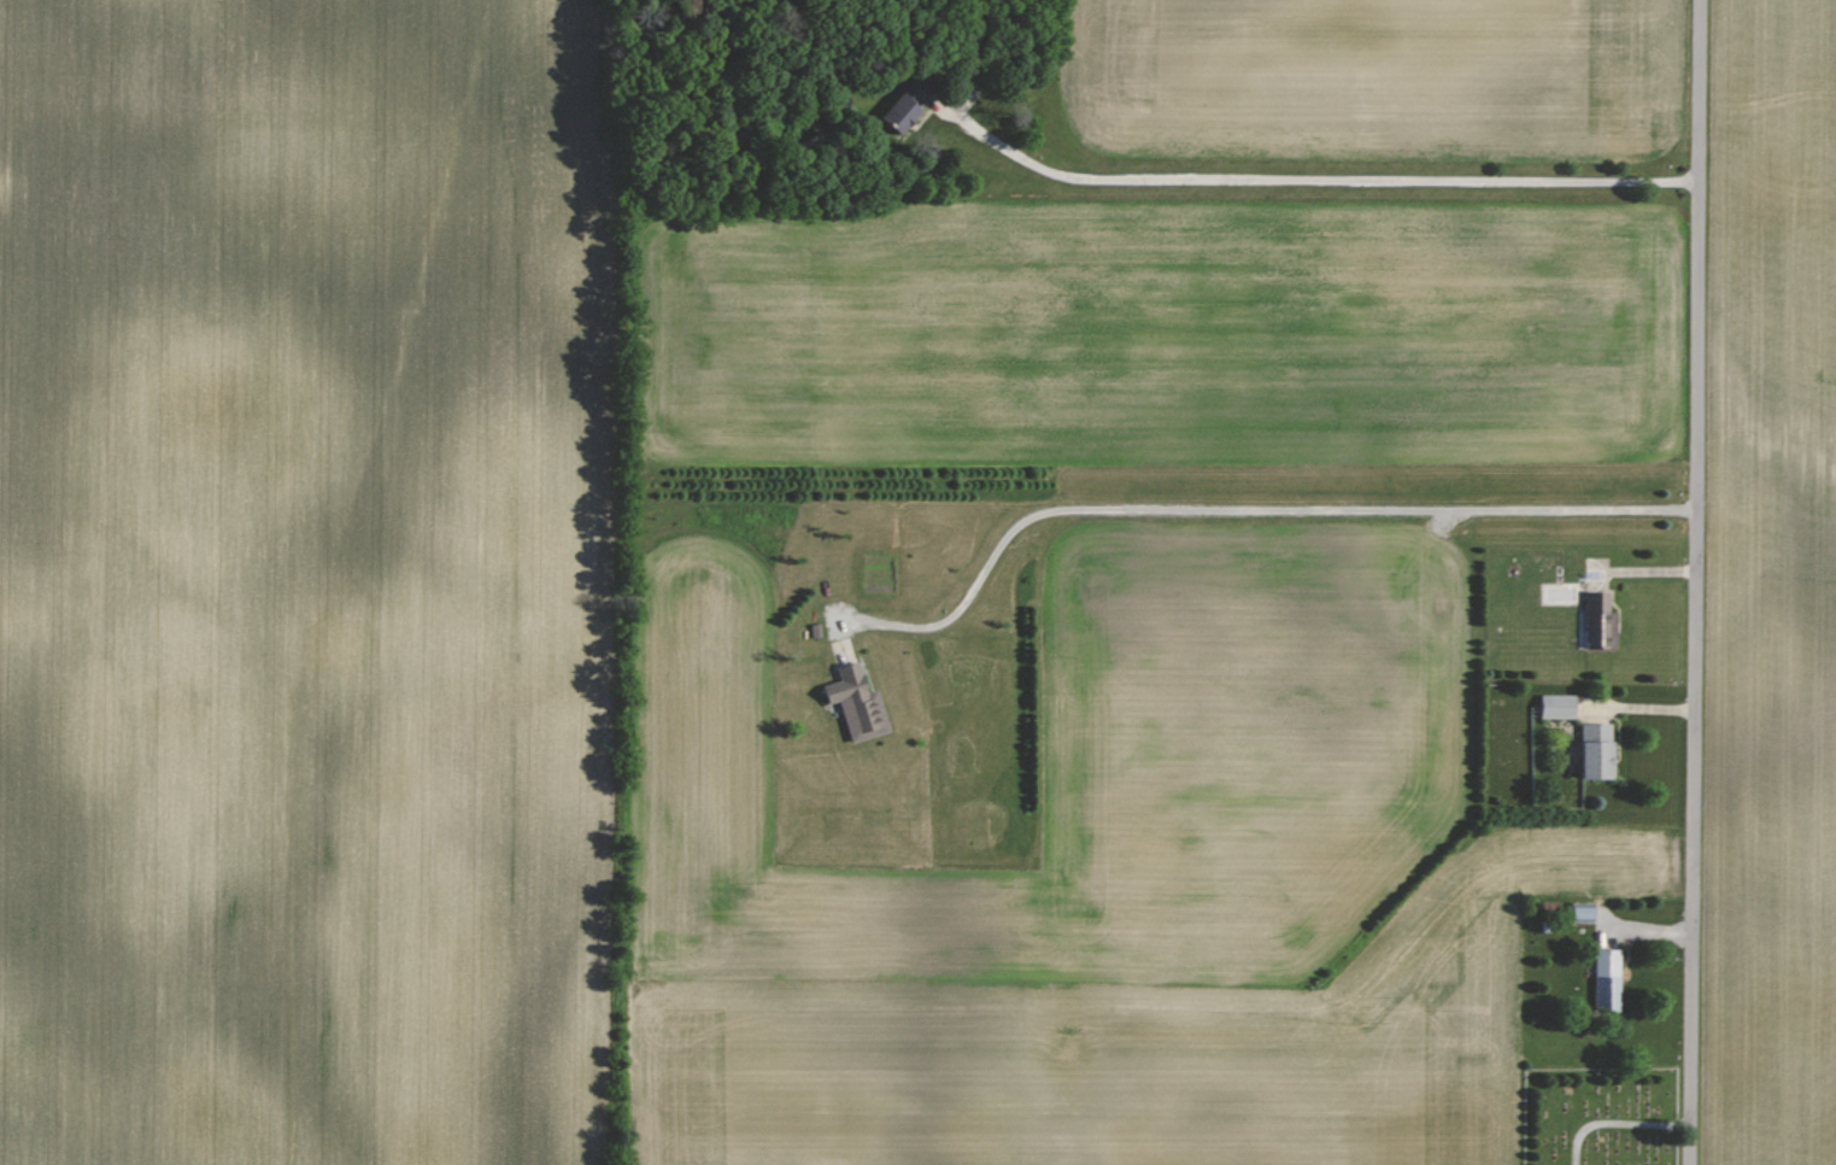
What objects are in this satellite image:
building: (897, 109)
road: (1325, 177)
road: (1243, 508)
road: (1695, 582)
building: (1595, 622)
building: (861, 703)
building: (1551, 707)
building: (1590, 753)
building: (1574, 912)
building: (1602, 982)
road: (1618, 1124)

